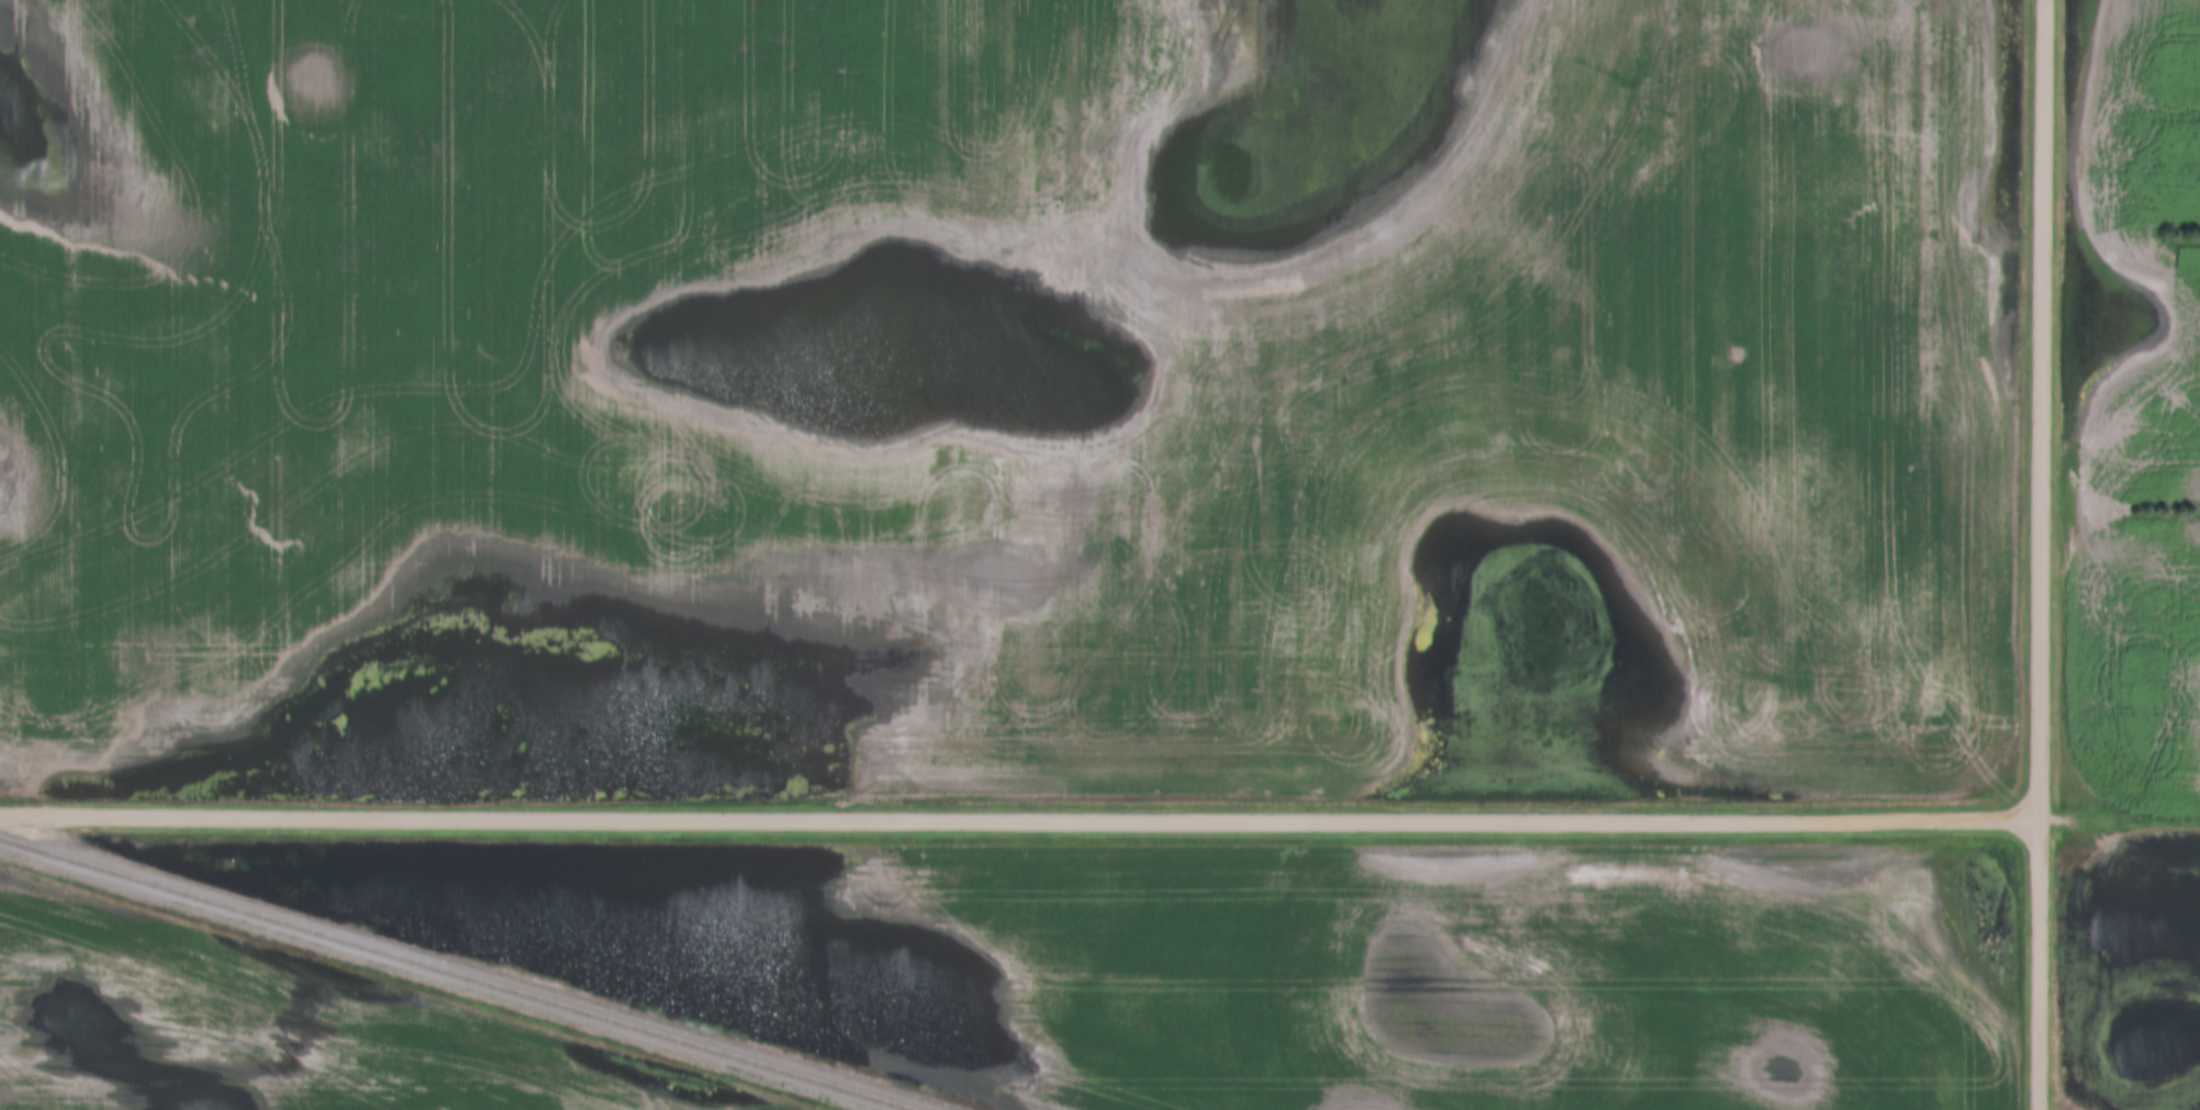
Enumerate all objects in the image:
road: (2041, 410)
road: (1018, 825)
crop: (1317, 963)
road: (2039, 965)
railway: (454, 975)
crop: (279, 1025)

